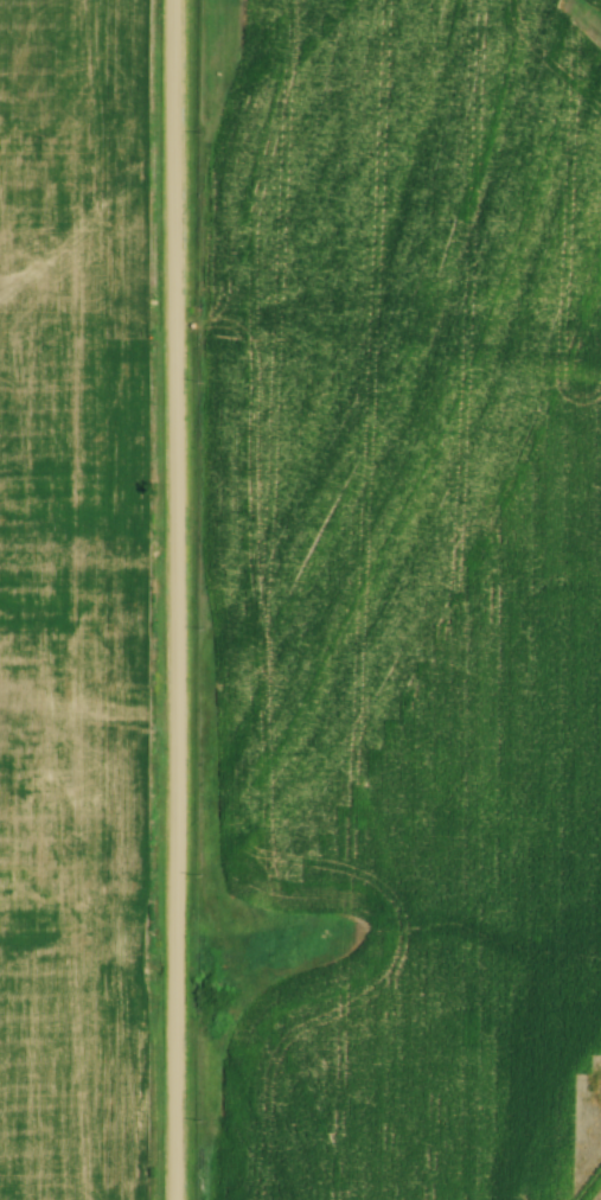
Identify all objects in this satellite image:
road: (166, 600)

